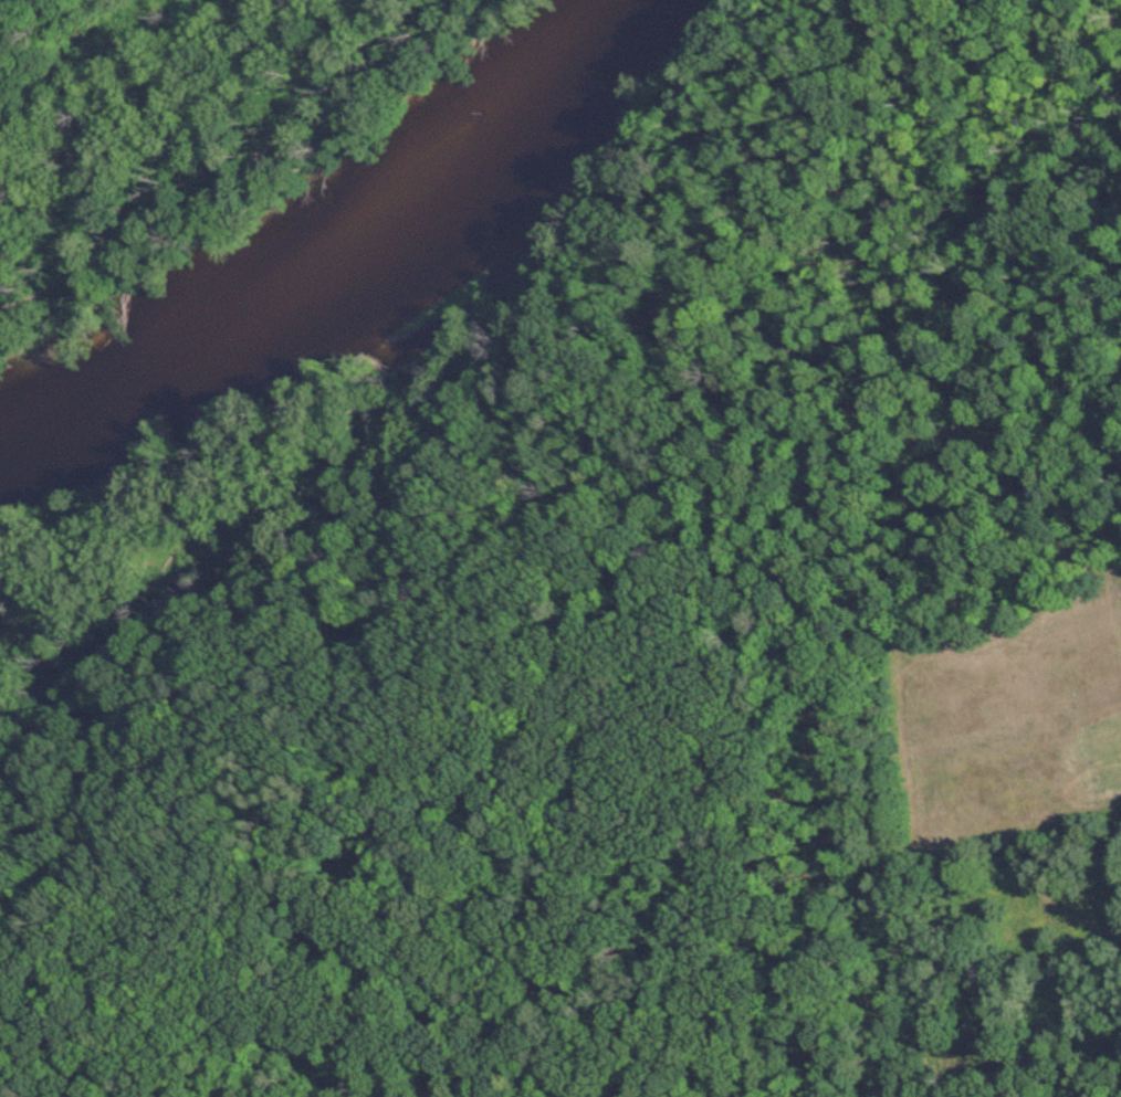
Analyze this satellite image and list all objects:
river: (349, 255)

